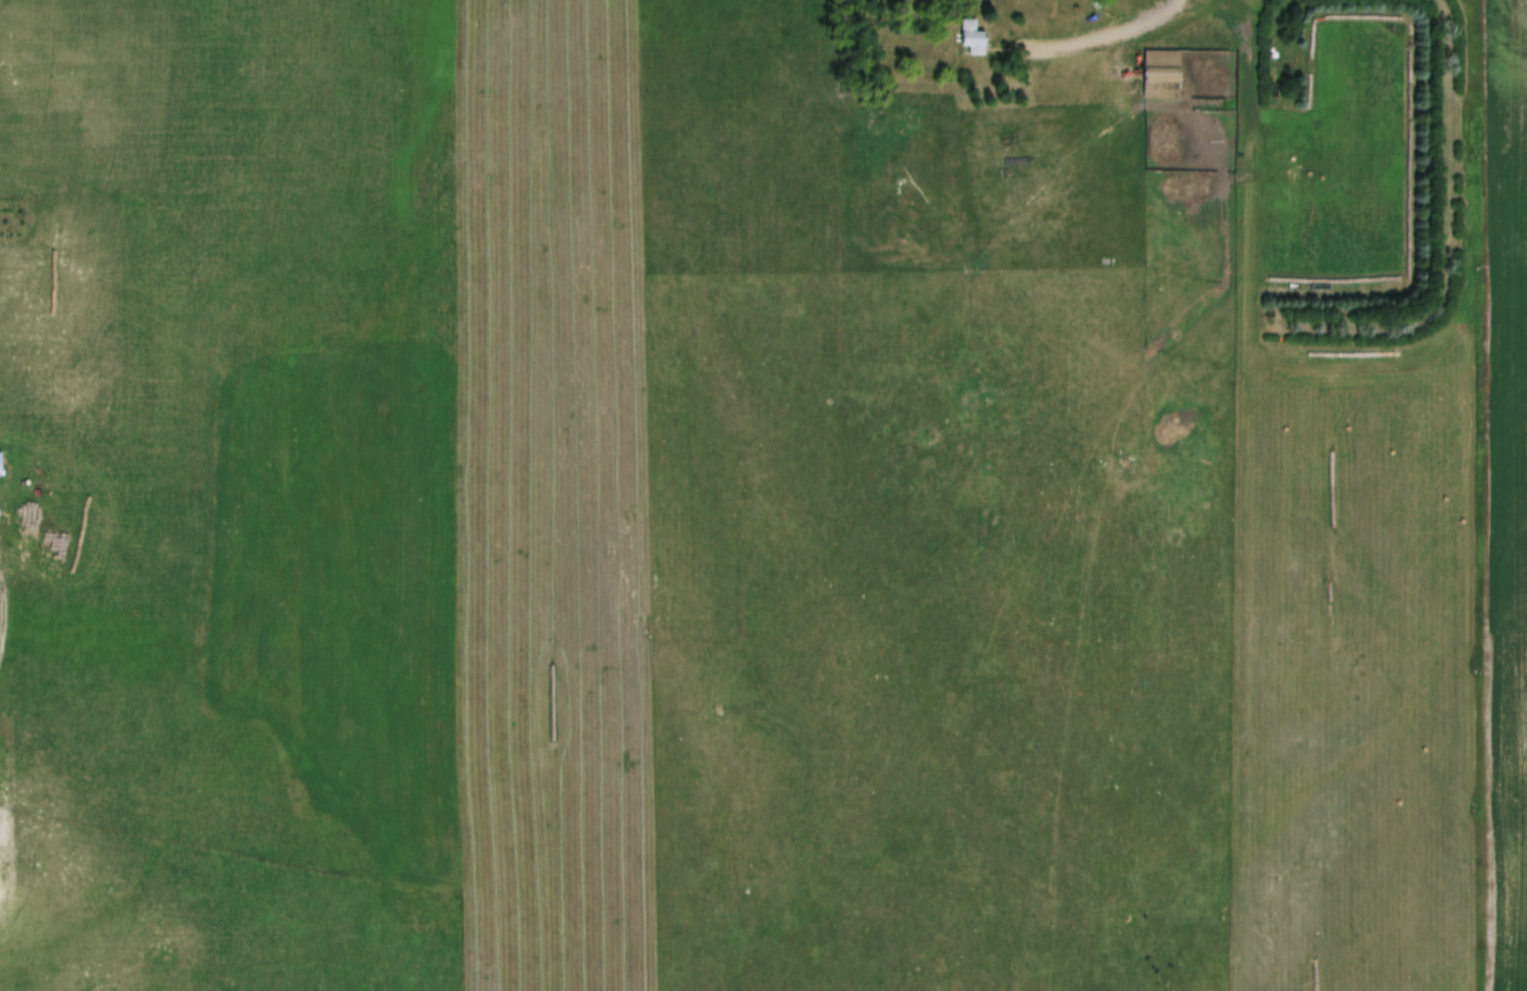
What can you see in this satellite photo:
building: (1098, 5)
building: (975, 40)
road: (1109, 40)
building: (148, 981)

